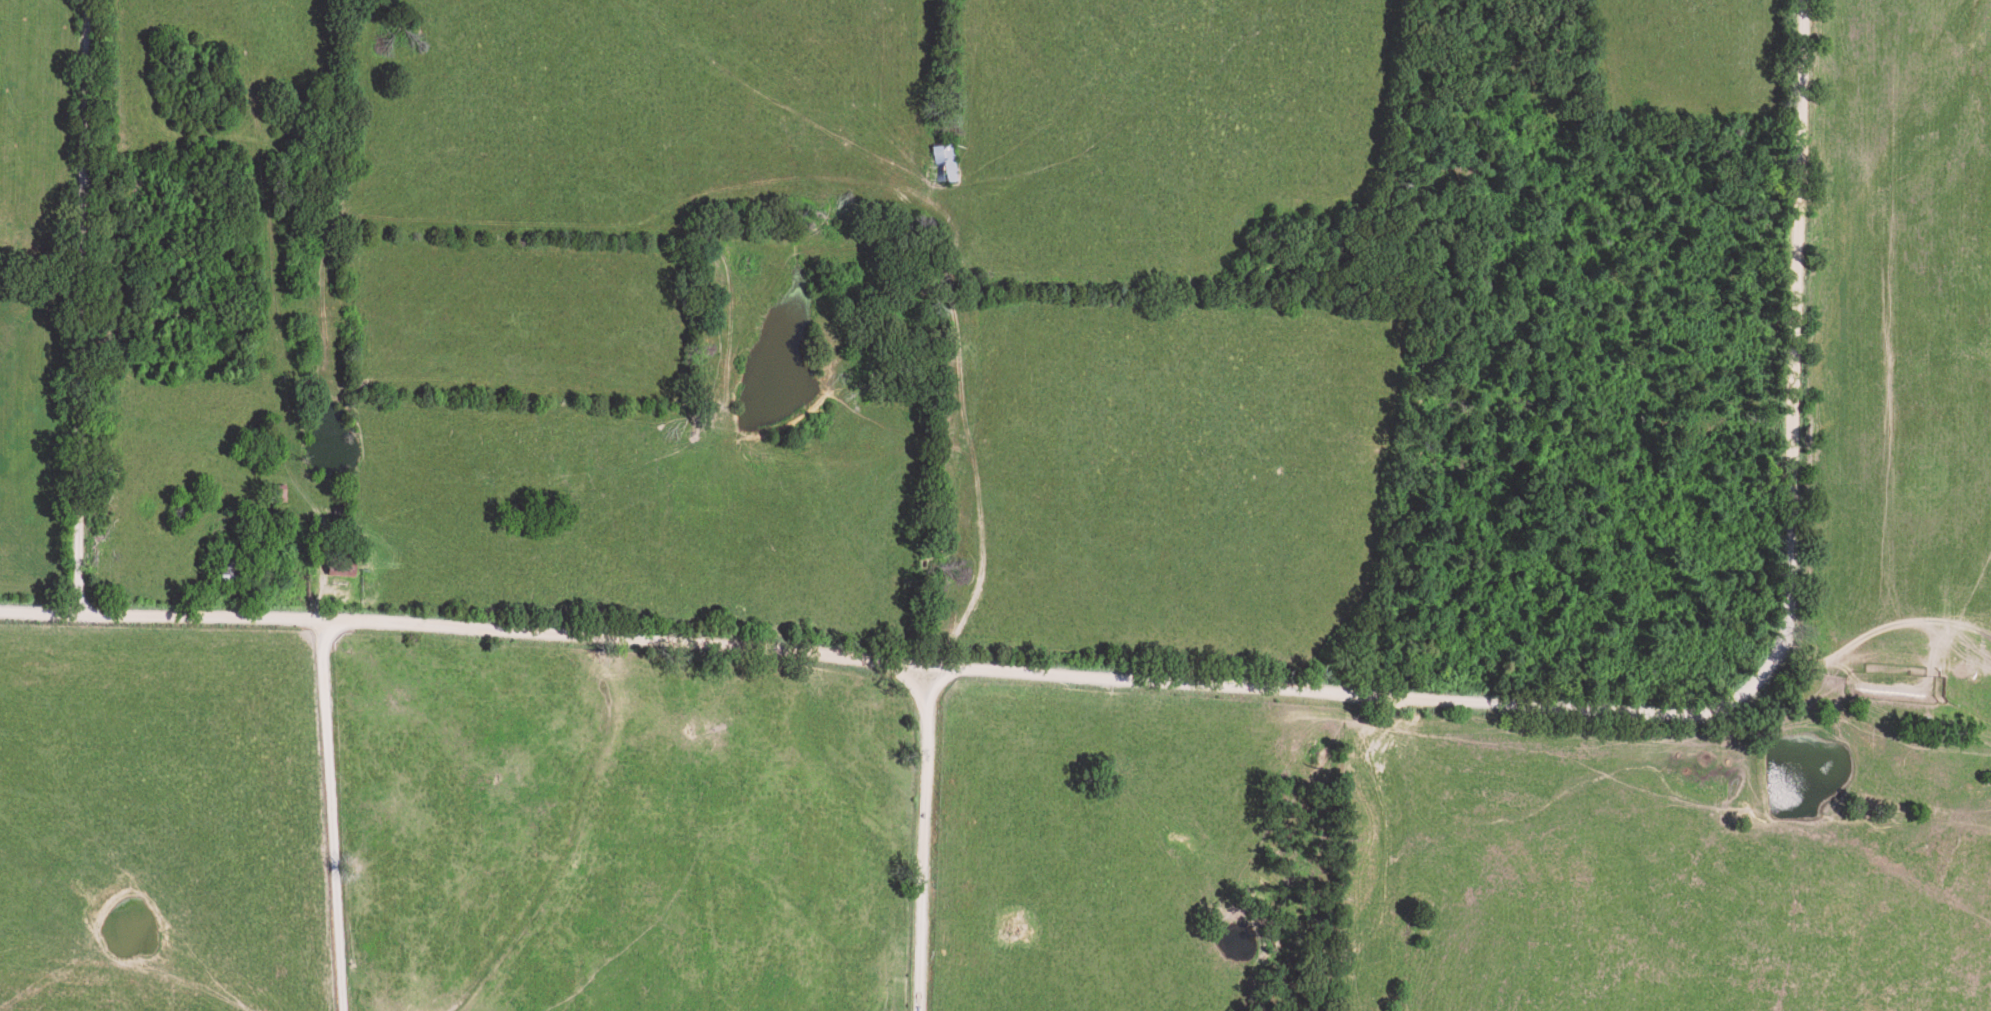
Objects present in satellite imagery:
road: (56, 299)
road: (1232, 679)
road: (339, 818)
road: (938, 838)

